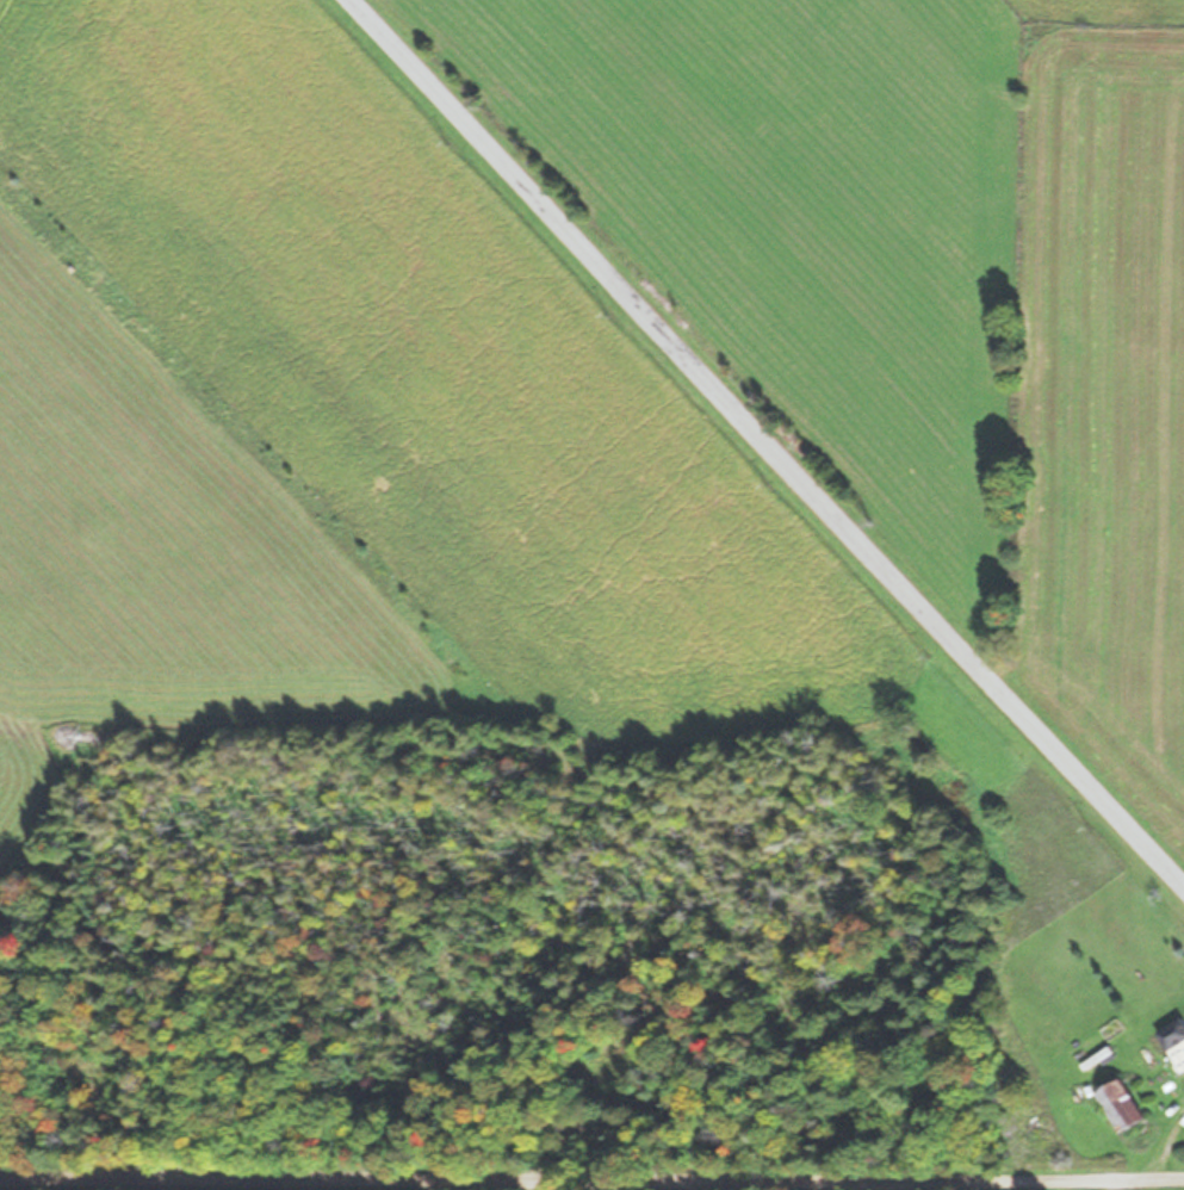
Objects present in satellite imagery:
road: (758, 445)
building: (1174, 1036)
building: (1126, 1108)
road: (591, 1184)

